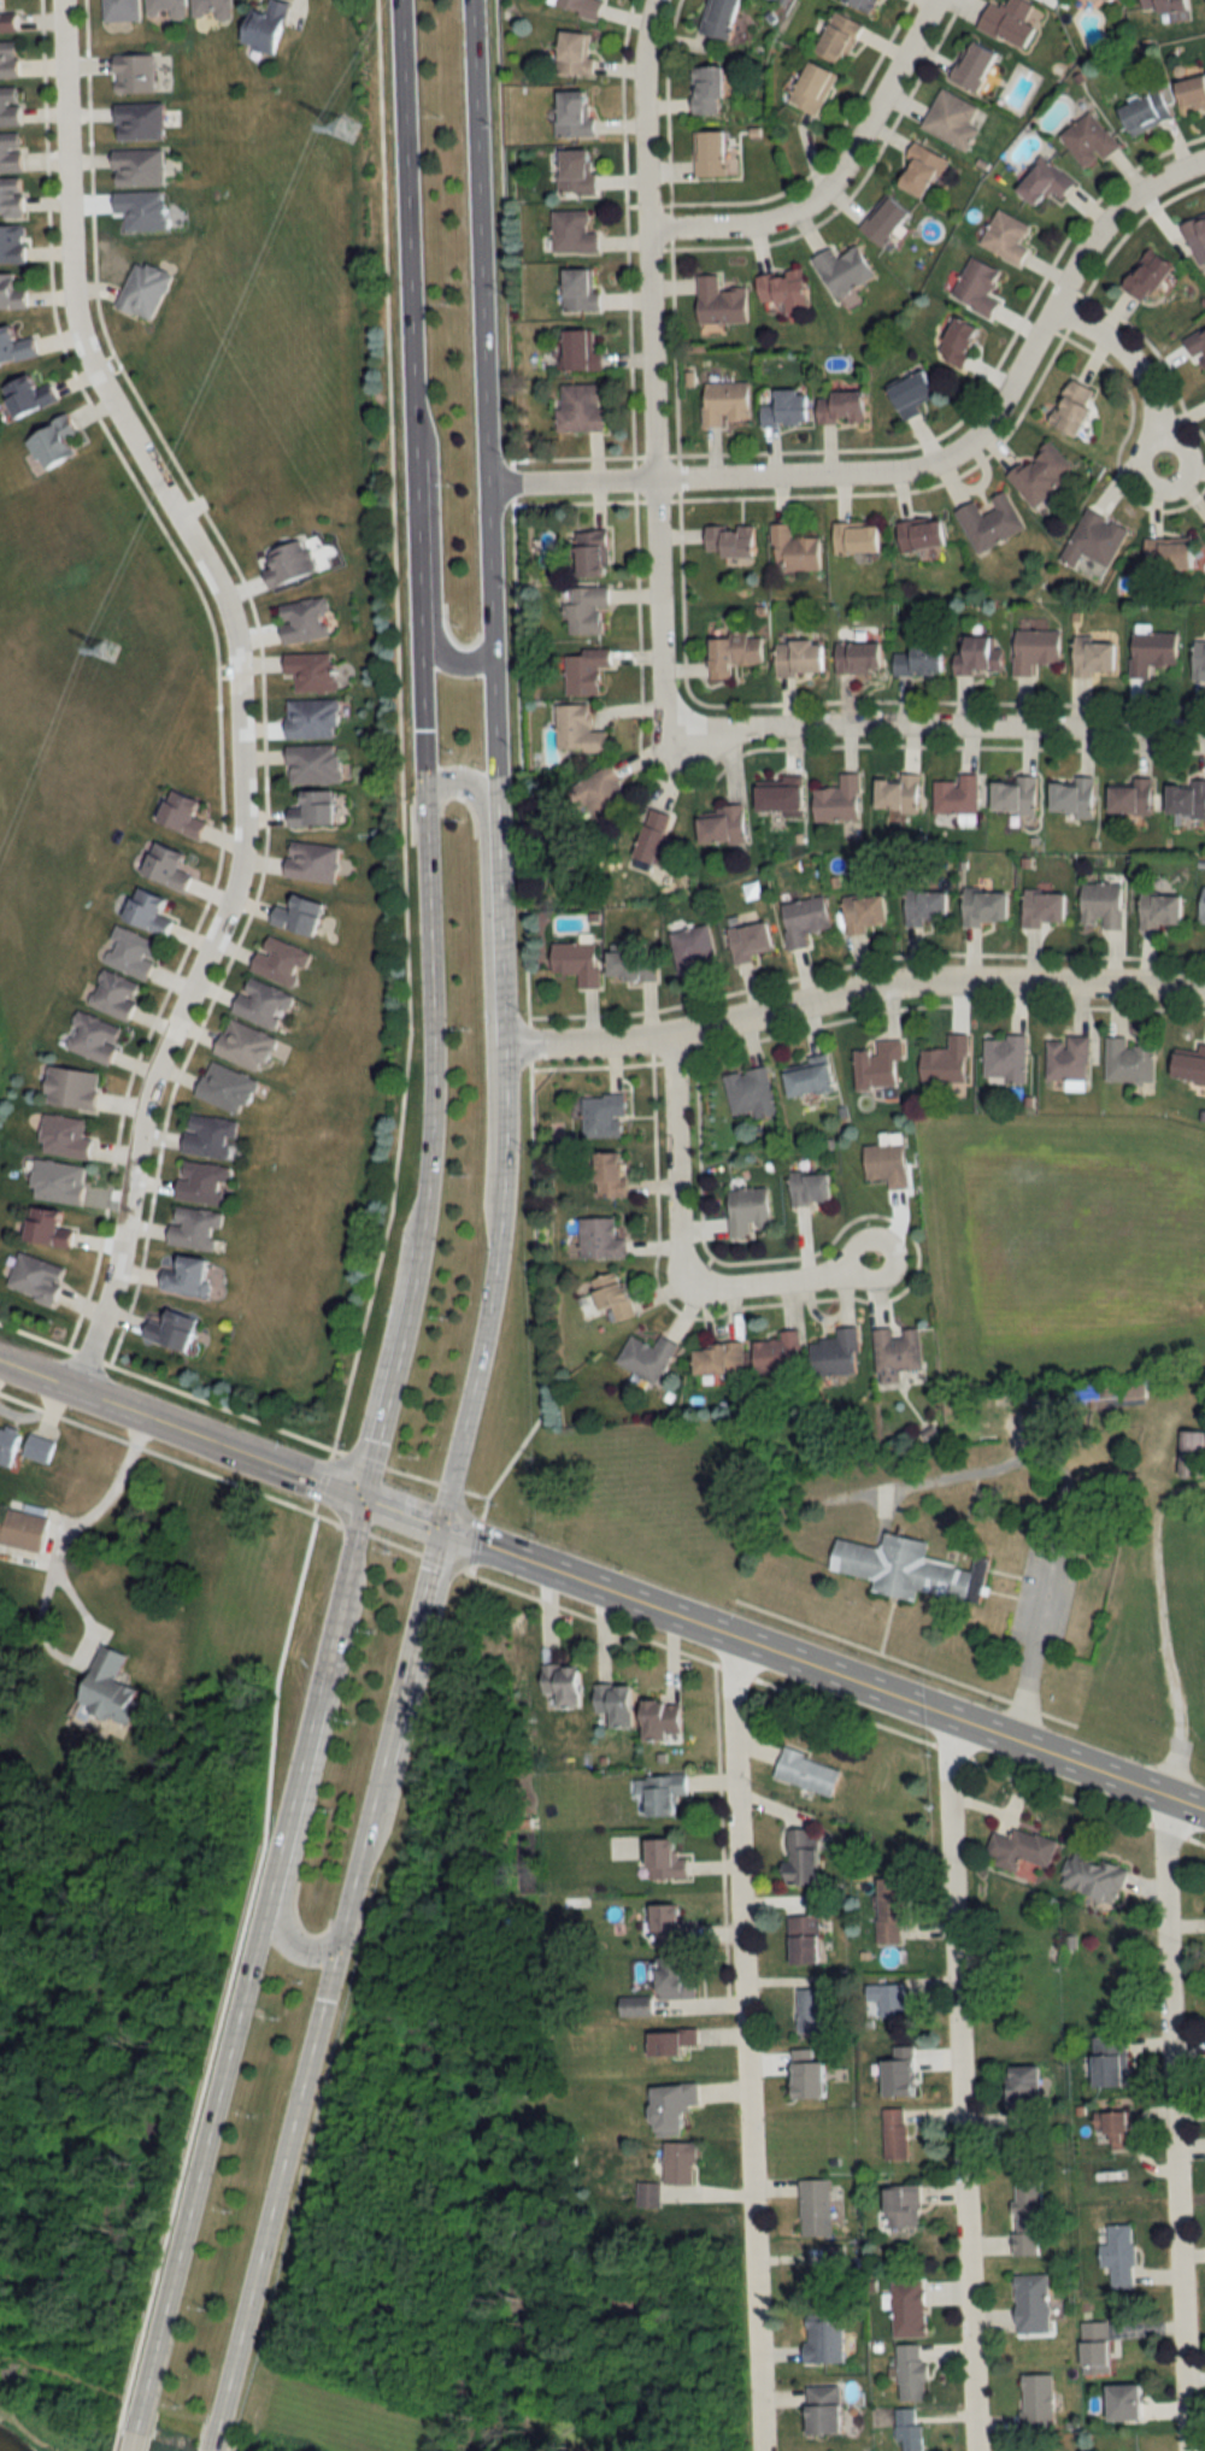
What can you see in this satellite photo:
building: (1103, 1)
building: (859, 5)
building: (169, 6)
building: (1160, 6)
building: (577, 7)
building: (212, 8)
building: (123, 10)
building: (716, 18)
building: (7, 19)
building: (1009, 22)
building: (269, 27)
building: (835, 40)
building: (571, 55)
building: (10, 60)
building: (970, 67)
building: (136, 74)
building: (810, 89)
building: (704, 92)
building: (1189, 94)
building: (10, 106)
building: (571, 114)
building: (1141, 114)
building: (948, 121)
building: (141, 122)
power tower: (347, 129)
building: (1086, 141)
building: (11, 152)
building: (706, 154)
building: (141, 167)
building: (917, 172)
building: (574, 175)
road: (831, 176)
building: (1041, 183)
building: (12, 196)
building: (143, 210)
building: (882, 223)
building: (574, 233)
building: (1004, 236)
building: (1195, 237)
building: (13, 243)
building: (840, 270)
building: (1144, 275)
building: (975, 286)
building: (146, 289)
building: (583, 289)
building: (781, 289)
building: (12, 292)
building: (717, 301)
road: (482, 325)
building: (954, 341)
building: (14, 346)
building: (1197, 348)
building: (583, 351)
road: (647, 359)
road: (1131, 368)
road: (410, 393)
building: (909, 393)
building: (31, 395)
building: (722, 401)
building: (836, 406)
building: (1070, 406)
building: (582, 407)
building: (783, 407)
building: (57, 442)
road: (921, 466)
building: (1039, 471)
building: (988, 521)
building: (917, 534)
building: (852, 537)
building: (727, 539)
building: (1092, 539)
building: (792, 548)
road: (433, 552)
building: (588, 552)
building: (1165, 553)
building: (290, 564)
building: (583, 610)
building: (306, 621)
building: (1031, 648)
building: (1148, 651)
power tower: (108, 653)
building: (729, 653)
building: (974, 653)
building: (797, 657)
building: (854, 657)
building: (916, 657)
building: (1091, 657)
building: (1197, 660)
building: (582, 670)
building: (315, 671)
road: (236, 687)
road: (518, 706)
building: (315, 718)
road: (937, 728)
building: (575, 730)
building: (316, 763)
building: (893, 792)
building: (953, 794)
building: (1012, 795)
building: (777, 797)
building: (1070, 797)
building: (1128, 797)
building: (835, 799)
building: (1183, 799)
building: (317, 810)
building: (186, 813)
building: (719, 825)
building: (654, 840)
road: (493, 844)
building: (315, 862)
building: (170, 866)
road: (482, 884)
building: (1099, 905)
building: (1201, 905)
building: (923, 906)
building: (982, 906)
building: (1041, 907)
building: (1158, 910)
building: (152, 912)
building: (862, 912)
building: (302, 916)
building: (801, 919)
building: (747, 940)
building: (690, 950)
building: (134, 953)
building: (282, 960)
building: (575, 962)
building: (627, 966)
road: (851, 992)
building: (116, 994)
building: (264, 1003)
road: (427, 1016)
building: (95, 1036)
road: (502, 1039)
building: (247, 1045)
building: (1003, 1058)
building: (1065, 1058)
building: (1127, 1060)
building: (944, 1062)
building: (876, 1064)
building: (1188, 1065)
building: (806, 1078)
building: (74, 1087)
building: (229, 1087)
building: (748, 1092)
building: (599, 1115)
building: (66, 1136)
building: (212, 1136)
building: (883, 1164)
building: (607, 1174)
building: (61, 1181)
building: (202, 1181)
building: (807, 1188)
building: (745, 1211)
building: (49, 1228)
building: (196, 1228)
building: (598, 1239)
road: (674, 1254)
building: (190, 1276)
building: (40, 1277)
road: (490, 1285)
building: (609, 1298)
building: (176, 1330)
building: (775, 1353)
building: (833, 1353)
building: (893, 1353)
building: (643, 1358)
building: (716, 1358)
road: (389, 1369)
road: (40, 1373)
building: (1112, 1389)
road: (241, 1415)
road: (219, 1441)
building: (10, 1444)
building: (41, 1446)
road: (155, 1451)
building: (1187, 1453)
road: (506, 1464)
traffic signals: (361, 1493)
road: (1064, 1497)
road: (400, 1507)
road: (81, 1520)
road: (354, 1521)
traffic signals: (439, 1522)
building: (29, 1529)
road: (476, 1539)
road: (472, 1567)
building: (899, 1568)
road: (583, 1580)
road: (592, 1616)
road: (1162, 1626)
park: (1153, 1634)
road: (410, 1640)
building: (568, 1682)
building: (113, 1686)
road: (786, 1687)
building: (621, 1701)
building: (666, 1718)
road: (966, 1727)
road: (313, 1765)
building: (810, 1771)
building: (664, 1792)
building: (1023, 1848)
road: (355, 1851)
building: (806, 1857)
building: (669, 1859)
building: (1095, 1875)
building: (892, 1909)
building: (674, 1926)
building: (807, 1938)
traffic signals: (333, 1945)
building: (677, 1977)
road: (237, 1999)
building: (892, 1999)
building: (639, 2005)
building: (812, 2009)
park: (958, 2018)
building: (675, 2041)
road: (743, 2045)
building: (1107, 2062)
road: (957, 2085)
building: (1029, 2088)
building: (676, 2108)
road: (1172, 2124)
building: (1111, 2129)
building: (897, 2133)
building: (683, 2163)
road: (270, 2198)
building: (817, 2200)
building: (906, 2206)
building: (1029, 2217)
building: (1122, 2255)
building: (1033, 2303)
building: (911, 2308)
building: (825, 2339)
building: (1097, 2343)
building: (913, 2371)
building: (1039, 2402)
building: (1129, 2402)
building: (827, 2409)
building: (910, 2431)

